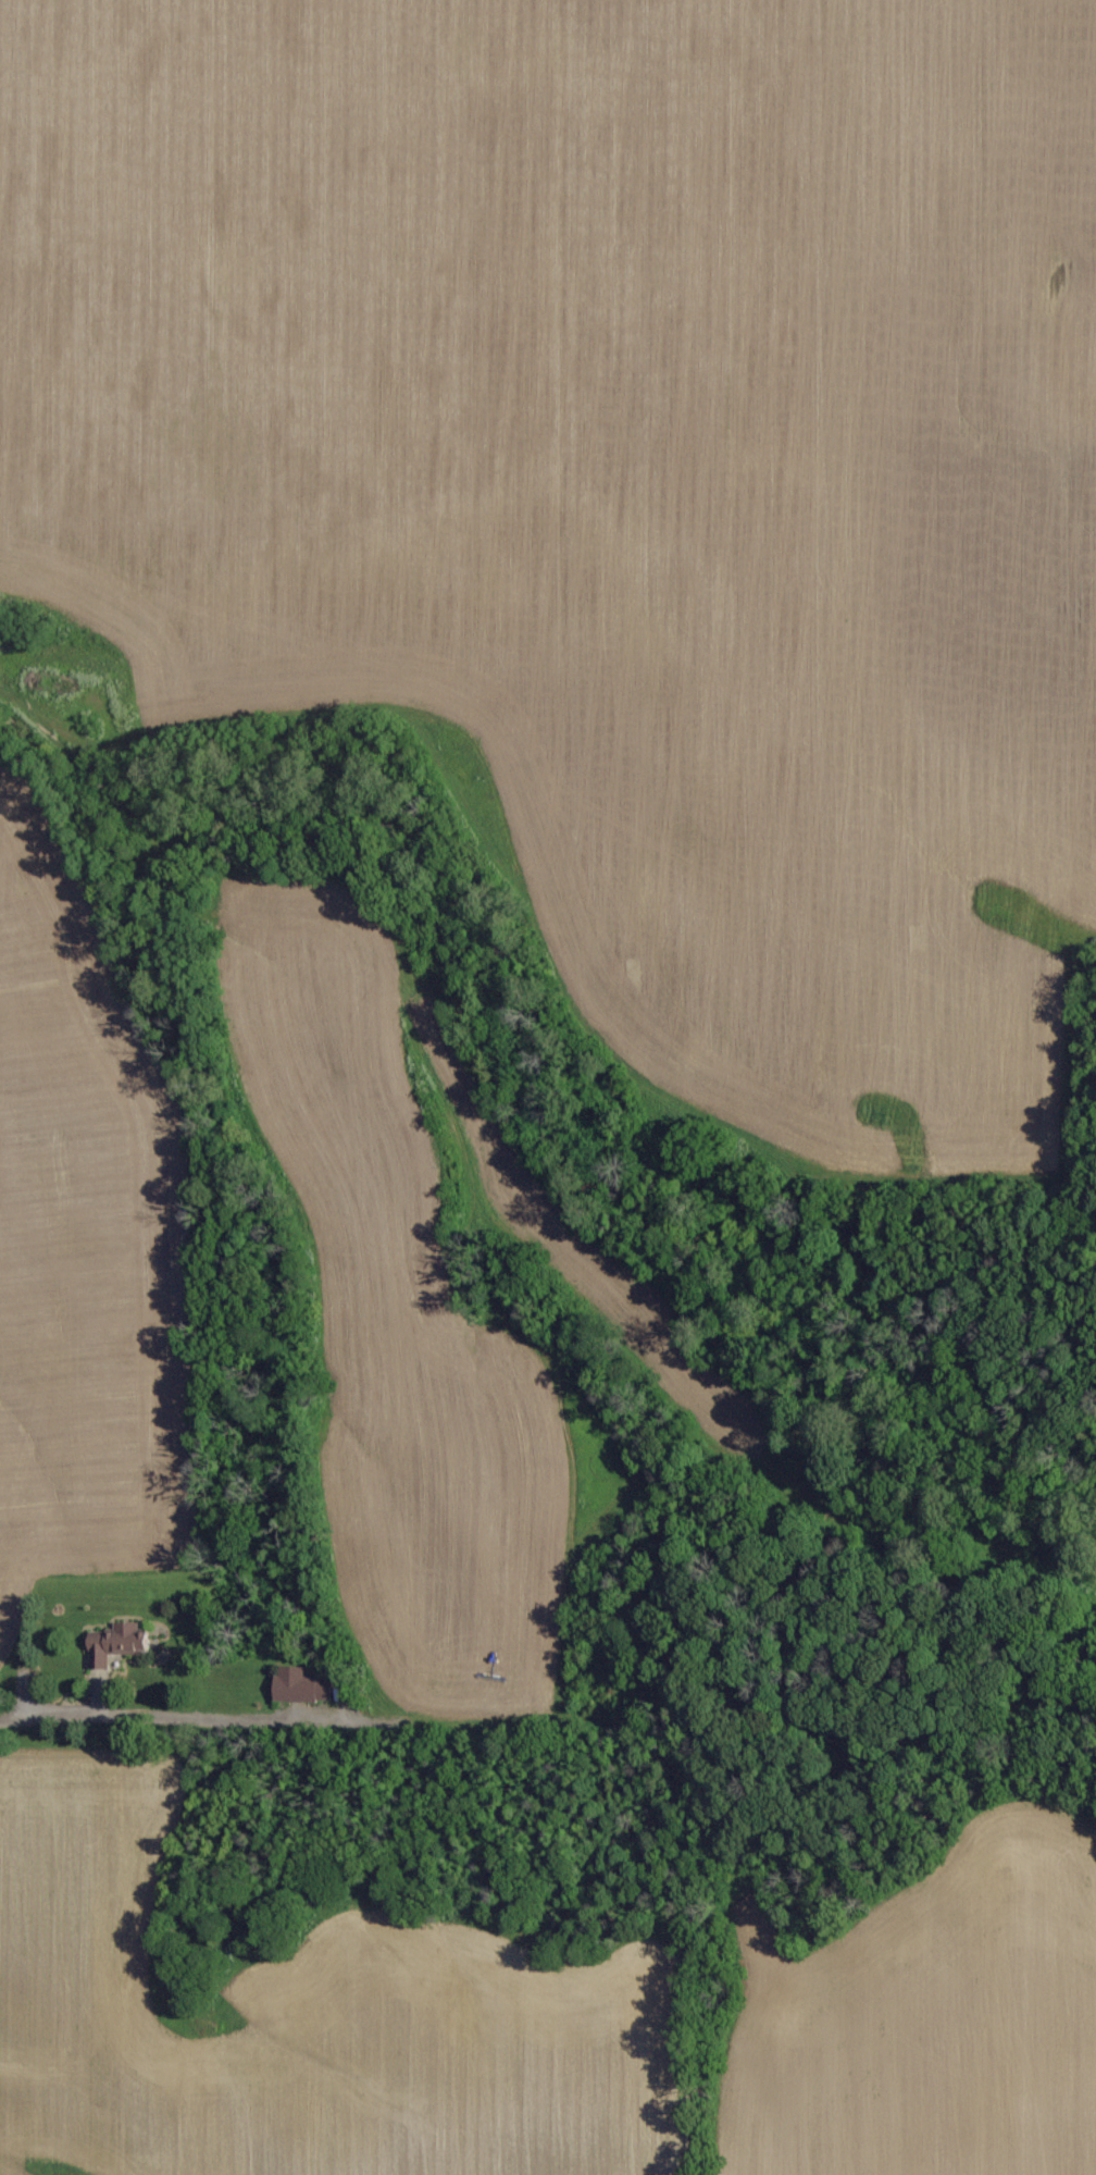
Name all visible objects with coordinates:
building: (117, 1644)
building: (303, 1686)
road: (52, 1730)

